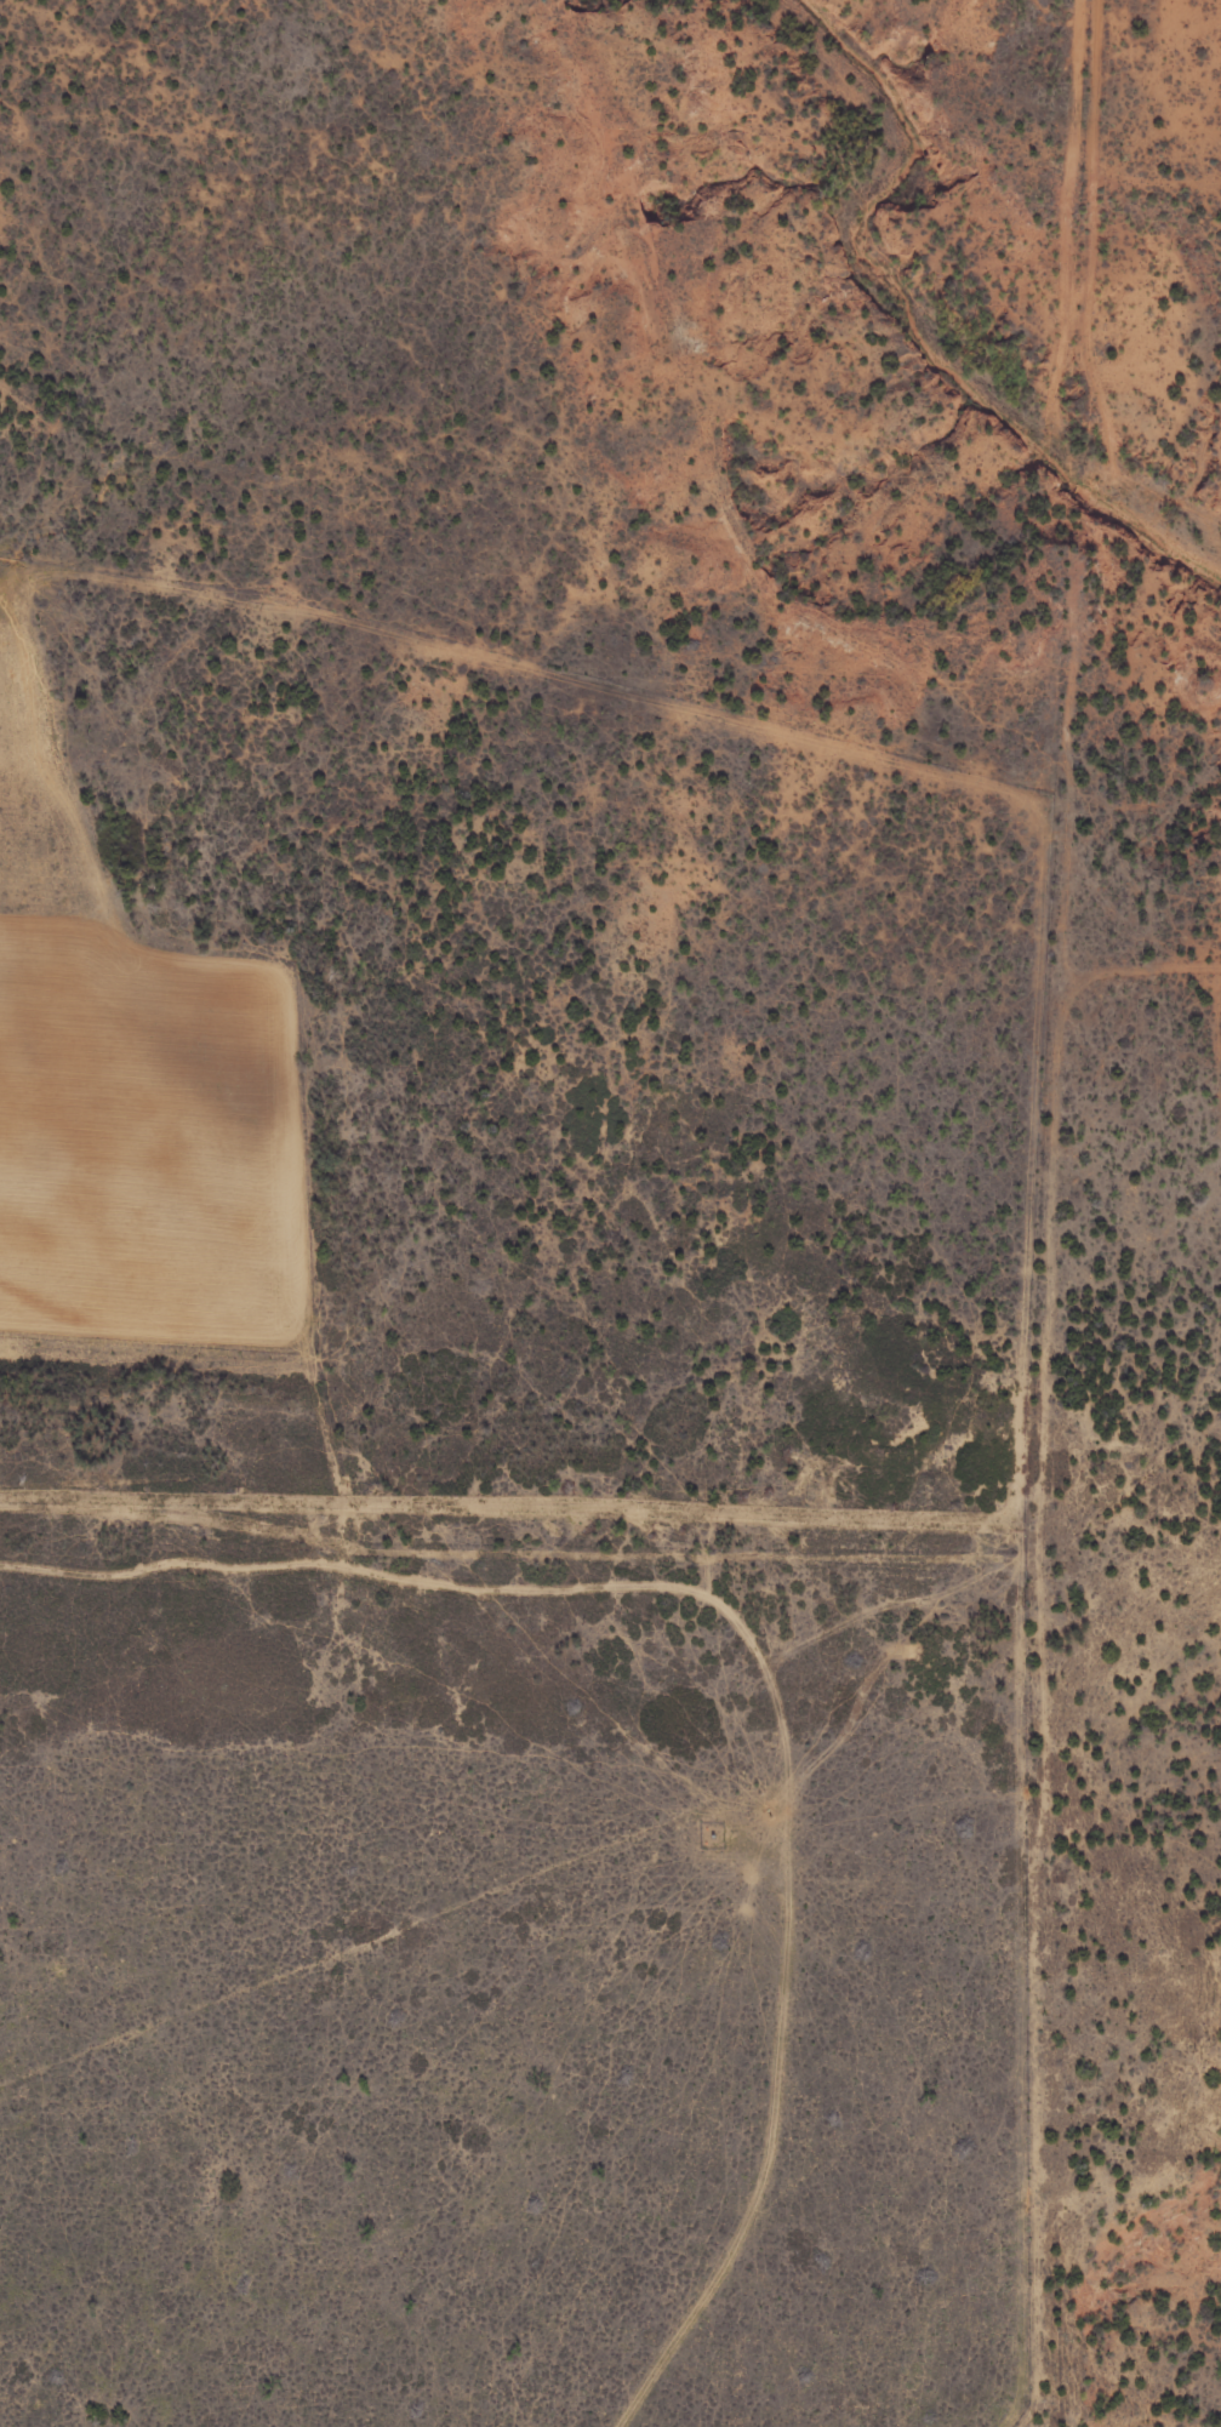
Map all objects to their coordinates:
road: (795, 1684)

